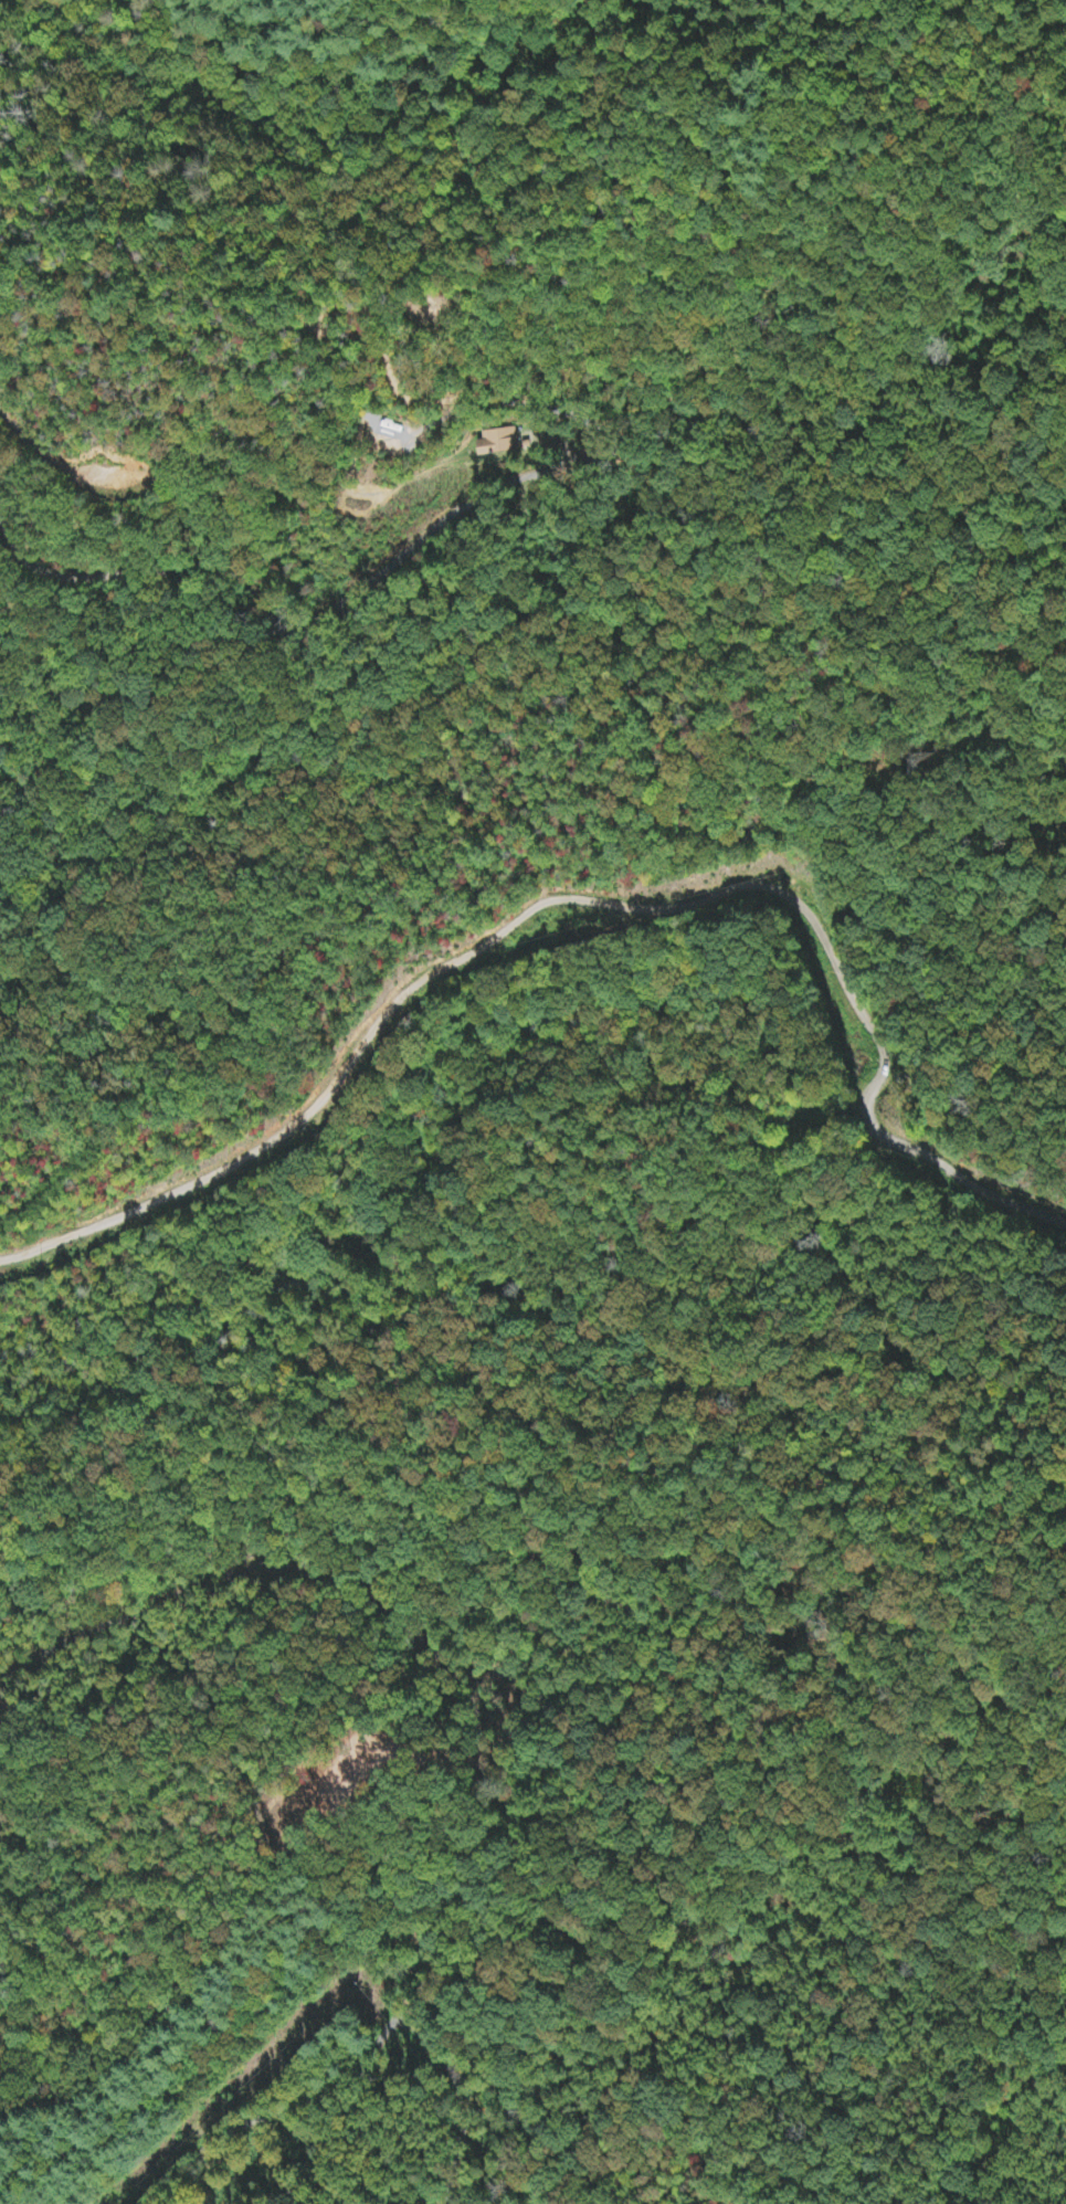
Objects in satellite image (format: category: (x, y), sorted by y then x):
building: (497, 443)
road: (263, 581)
road: (576, 898)

